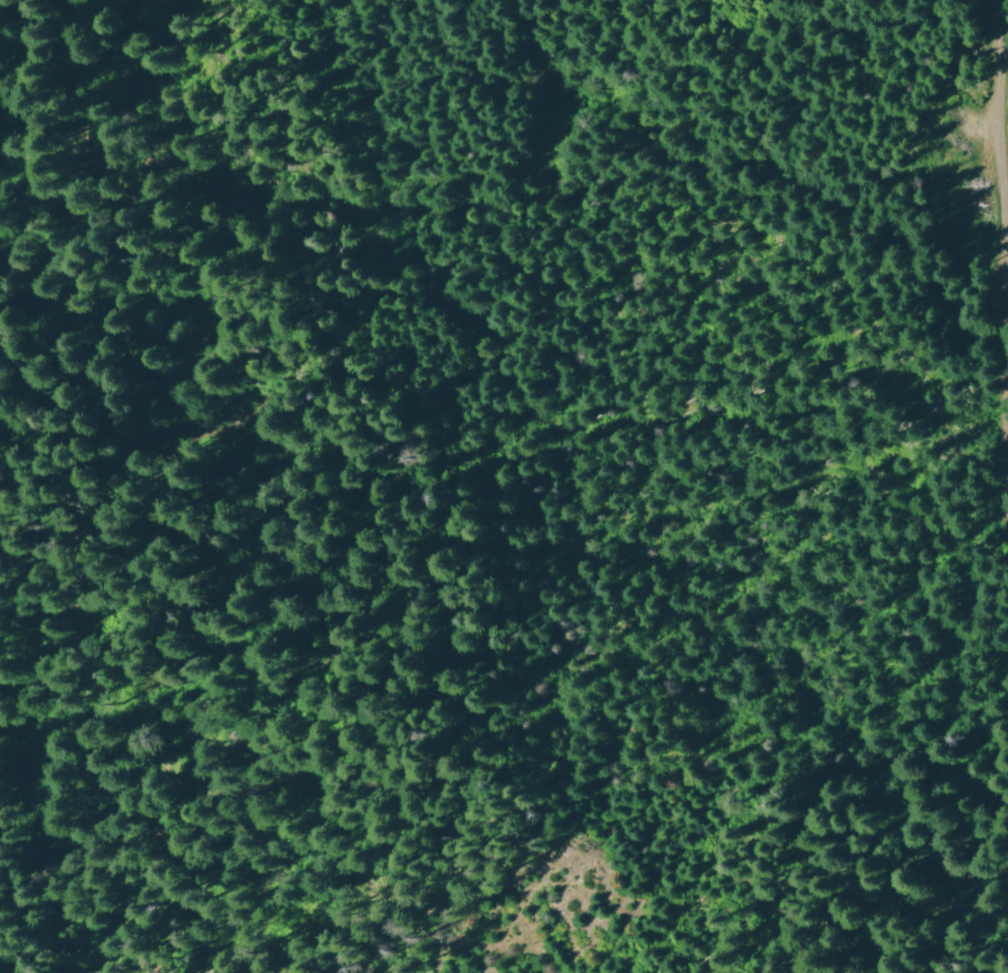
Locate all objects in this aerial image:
road: (999, 237)

